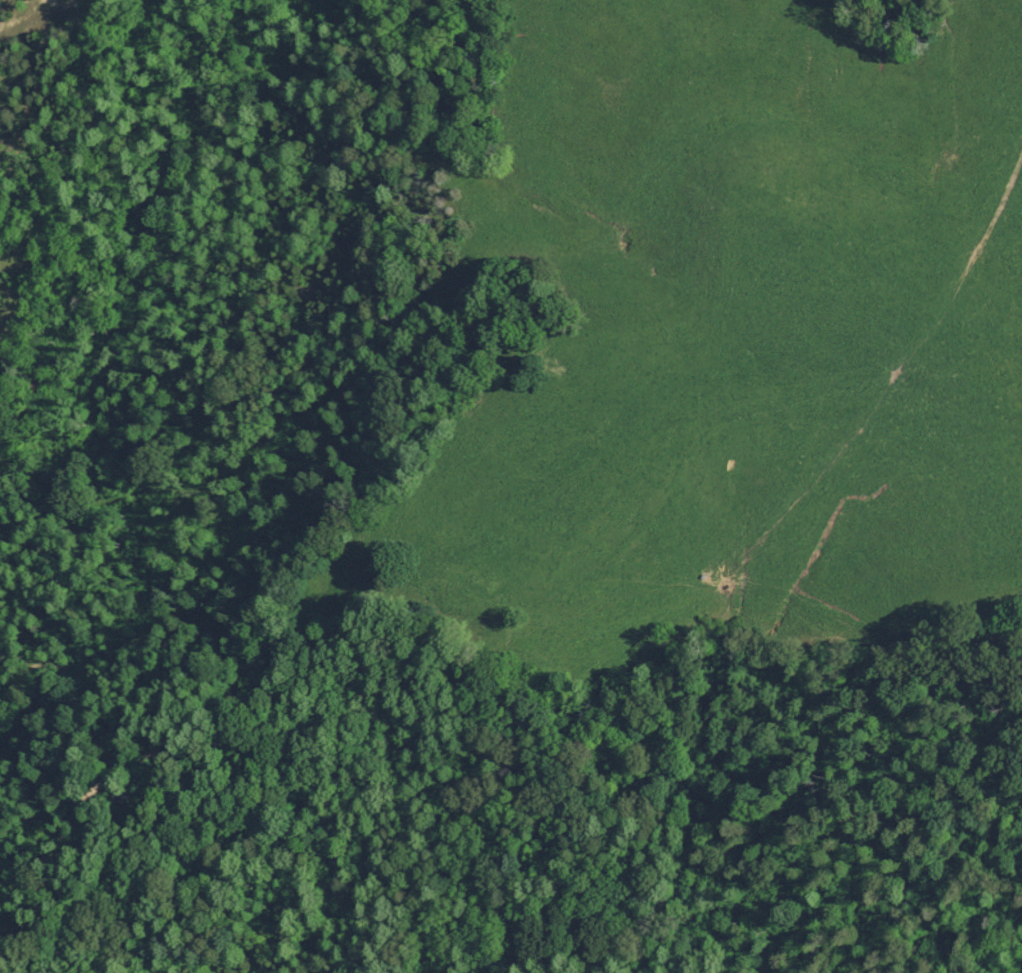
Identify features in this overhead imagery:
road: (193, 750)

